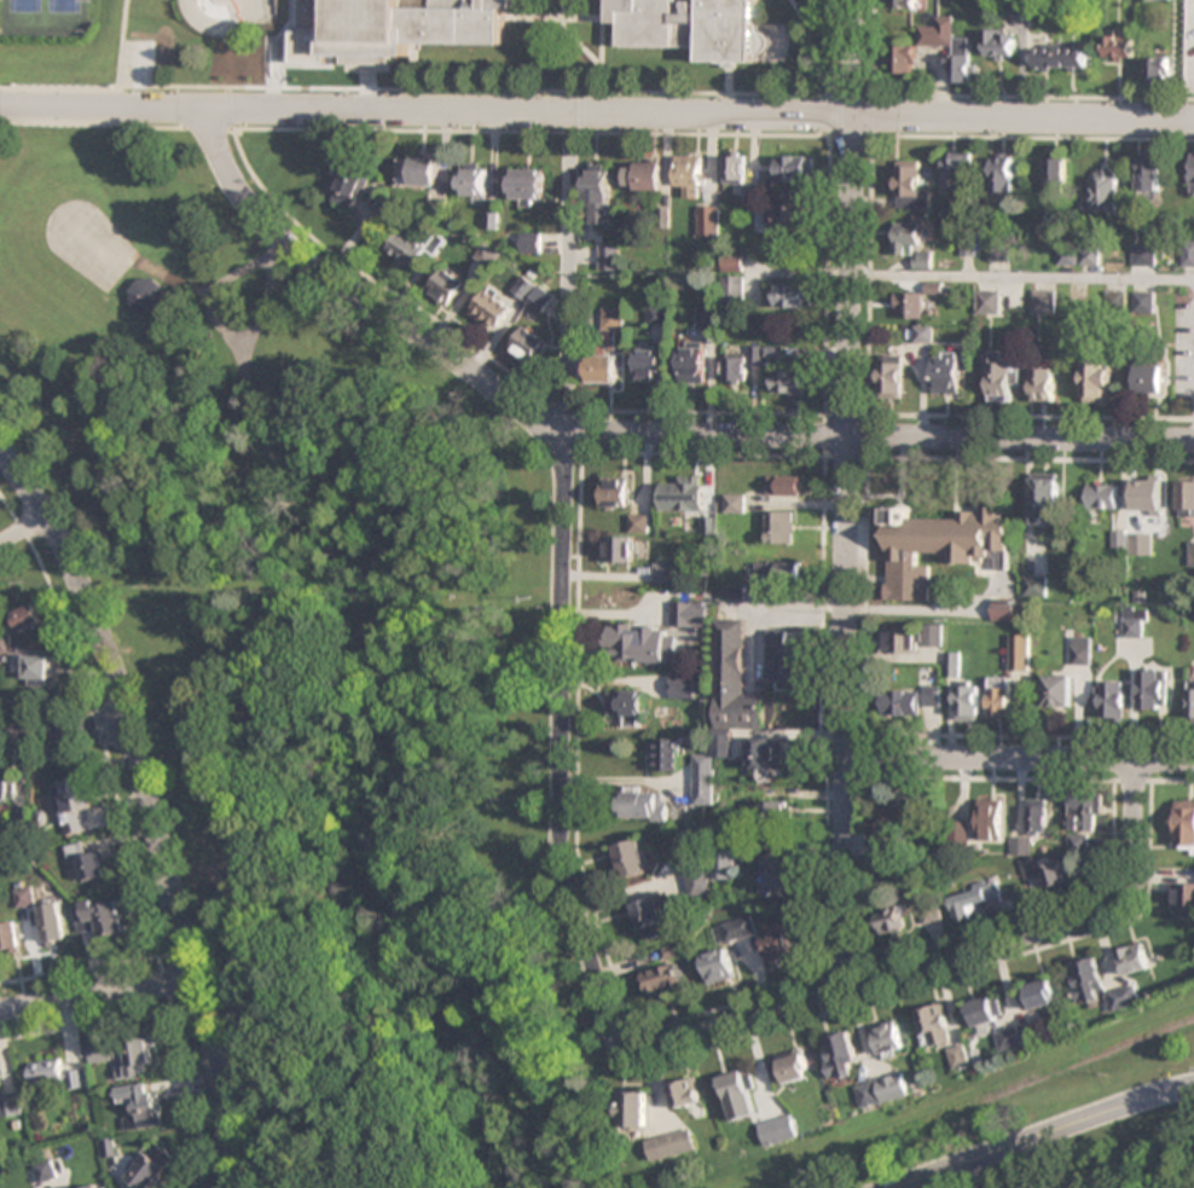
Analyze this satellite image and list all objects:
building: (1157, 0)
building: (904, 4)
park: (23, 5)
park: (63, 6)
building: (1020, 6)
building: (448, 23)
building: (682, 27)
building: (342, 31)
building: (998, 44)
building: (1118, 45)
parking lot: (1189, 46)
building: (947, 47)
building: (1057, 56)
building: (903, 59)
building: (1157, 70)
road: (597, 112)
building: (793, 168)
building: (735, 169)
building: (418, 172)
building: (957, 172)
building: (1001, 173)
building: (1192, 173)
building: (1054, 174)
building: (1149, 174)
building: (643, 175)
building: (689, 175)
building: (474, 180)
building: (349, 186)
building: (527, 186)
building: (910, 186)
building: (1105, 189)
building: (598, 193)
building: (784, 219)
building: (708, 220)
building: (910, 242)
building: (531, 243)
building: (1188, 253)
building: (118, 254)
building: (1144, 255)
building: (609, 259)
building: (735, 263)
road: (969, 274)
building: (446, 286)
road: (569, 289)
building: (735, 291)
building: (532, 292)
building: (794, 295)
building: (147, 297)
building: (989, 301)
building: (1044, 301)
building: (1144, 301)
building: (909, 305)
building: (492, 309)
building: (527, 347)
building: (694, 361)
building: (649, 364)
building: (736, 369)
building: (602, 370)
building: (946, 372)
building: (891, 376)
building: (1001, 377)
building: (1149, 378)
building: (1096, 381)
building: (790, 383)
building: (1043, 384)
road: (870, 436)
building: (792, 485)
building: (616, 492)
building: (684, 493)
building: (1147, 494)
road: (846, 496)
building: (1101, 496)
building: (1044, 497)
building: (1186, 498)
building: (738, 503)
building: (642, 522)
building: (782, 526)
road: (22, 527)
road: (564, 532)
building: (1140, 543)
building: (940, 546)
building: (620, 550)
building: (1192, 552)
building: (779, 569)
building: (666, 574)
building: (1034, 586)
building: (1008, 609)
building: (691, 615)
building: (27, 619)
building: (1134, 621)
building: (933, 634)
building: (902, 641)
building: (643, 643)
building: (1019, 651)
building: (1080, 651)
park: (313, 659)
building: (789, 662)
building: (954, 663)
building: (37, 670)
building: (735, 682)
building: (683, 686)
building: (1152, 688)
building: (1057, 691)
building: (999, 697)
building: (911, 700)
building: (1109, 700)
building: (1189, 700)
building: (968, 702)
building: (628, 706)
road: (65, 726)
building: (667, 755)
building: (767, 757)
road: (1019, 759)
building: (705, 781)
building: (6, 789)
building: (74, 804)
building: (644, 805)
road: (150, 806)
building: (1084, 811)
building: (775, 812)
building: (1038, 816)
building: (23, 817)
building: (991, 819)
building: (892, 822)
building: (1184, 824)
building: (952, 833)
building: (1021, 846)
building: (632, 859)
building: (726, 860)
building: (89, 864)
building: (1055, 876)
building: (779, 877)
building: (699, 880)
building: (24, 897)
building: (1183, 897)
building: (972, 899)
building: (99, 916)
building: (651, 918)
building: (891, 920)
building: (53, 928)
building: (738, 928)
building: (8, 937)
building: (777, 944)
road: (978, 950)
building: (1136, 958)
building: (719, 966)
building: (667, 983)
building: (1101, 985)
road: (95, 993)
building: (1042, 995)
building: (935, 1025)
building: (1020, 1036)
building: (889, 1039)
building: (100, 1051)
building: (841, 1056)
building: (962, 1056)
building: (137, 1057)
building: (790, 1067)
building: (56, 1074)
building: (885, 1090)
building: (688, 1093)
building: (741, 1095)
railway: (975, 1101)
building: (10, 1105)
building: (140, 1107)
building: (637, 1109)
building: (779, 1130)
road: (1044, 1134)
building: (673, 1144)
building: (150, 1166)
building: (45, 1171)
building: (93, 1187)

